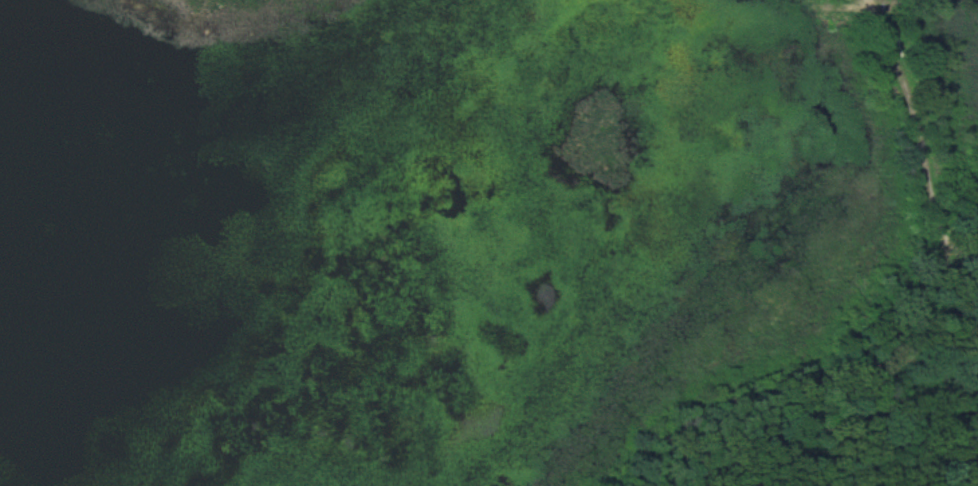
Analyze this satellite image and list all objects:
road: (915, 136)
road: (924, 392)

